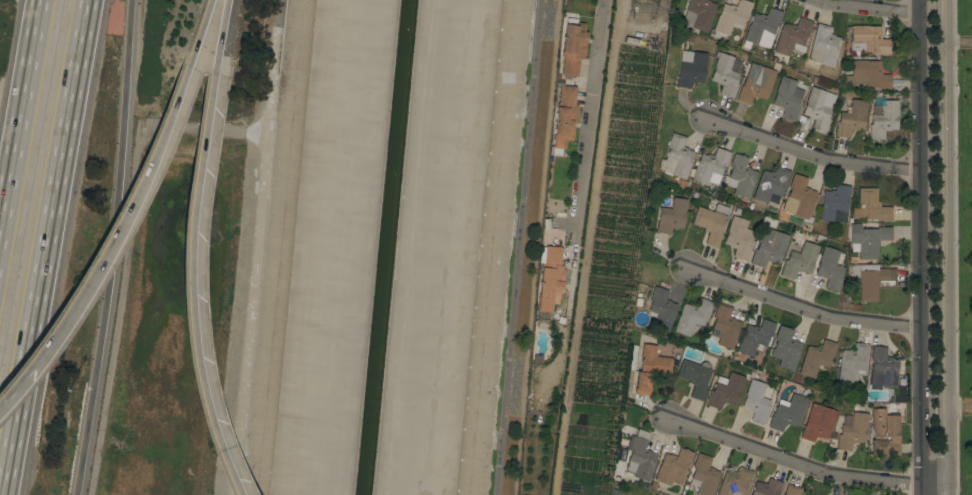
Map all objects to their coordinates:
road: (877, 7)
power tower: (649, 8)
building: (699, 14)
building: (730, 18)
building: (762, 28)
road: (221, 32)
road: (200, 33)
building: (598, 37)
building: (793, 37)
building: (869, 39)
building: (572, 46)
building: (824, 46)
building: (691, 68)
building: (867, 74)
building: (725, 75)
building: (756, 83)
building: (788, 97)
building: (818, 108)
road: (588, 111)
road: (19, 116)
building: (852, 118)
building: (564, 119)
building: (883, 119)
road: (813, 155)
building: (676, 157)
building: (710, 167)
building: (740, 176)
building: (771, 185)
building: (798, 197)
building: (835, 204)
building: (871, 206)
building: (672, 216)
road: (121, 219)
building: (711, 223)
building: (739, 238)
building: (868, 239)
road: (43, 247)
river: (385, 247)
road: (517, 247)
road: (536, 247)
road: (921, 247)
road: (945, 247)
road: (113, 248)
building: (769, 248)
building: (799, 260)
building: (831, 268)
building: (550, 277)
building: (872, 280)
road: (190, 282)
road: (803, 306)
building: (661, 309)
building: (692, 316)
building: (725, 326)
building: (756, 336)
building: (786, 348)
building: (817, 357)
building: (853, 362)
building: (651, 368)
building: (883, 368)
building: (695, 377)
road: (17, 382)
building: (725, 390)
building: (757, 402)
building: (787, 412)
building: (818, 423)
building: (852, 430)
building: (884, 434)
building: (639, 459)
road: (807, 464)
building: (586, 465)
building: (673, 467)
building: (703, 475)
building: (735, 482)
building: (766, 487)
building: (791, 490)
building: (565, 494)

